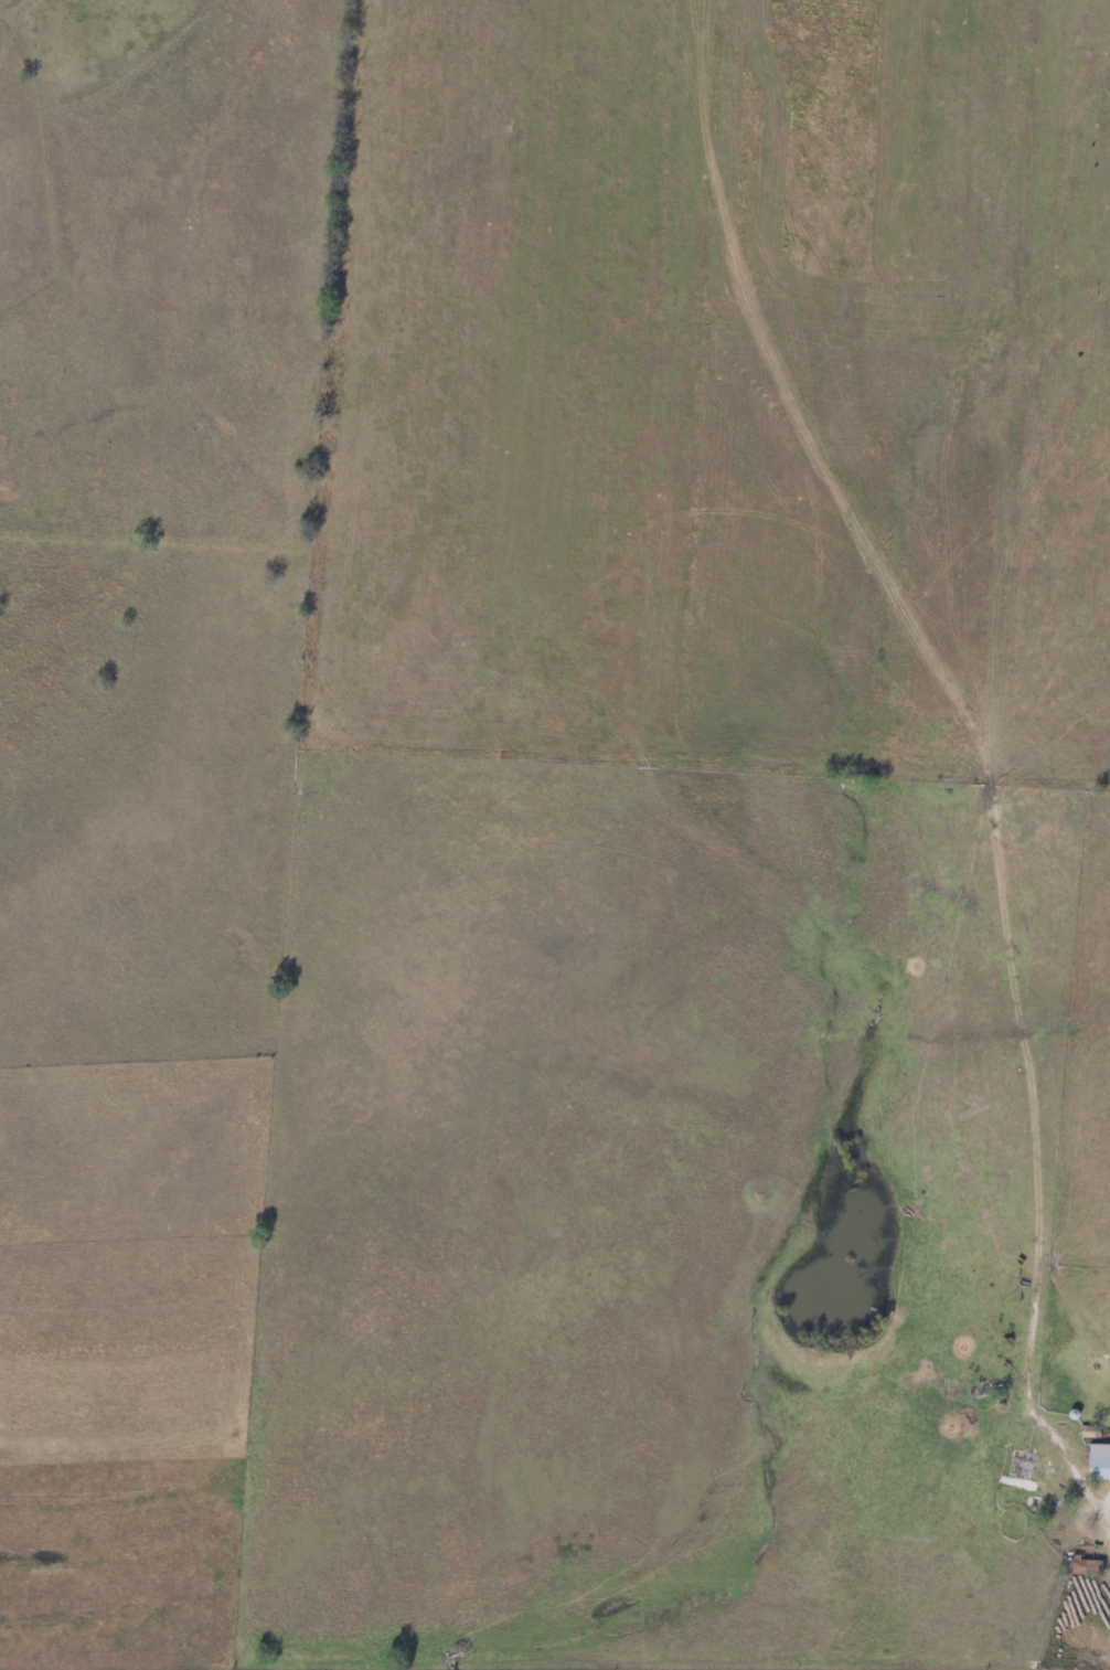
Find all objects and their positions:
building: (1023, 1466)
building: (1098, 1468)
road: (1104, 1508)

